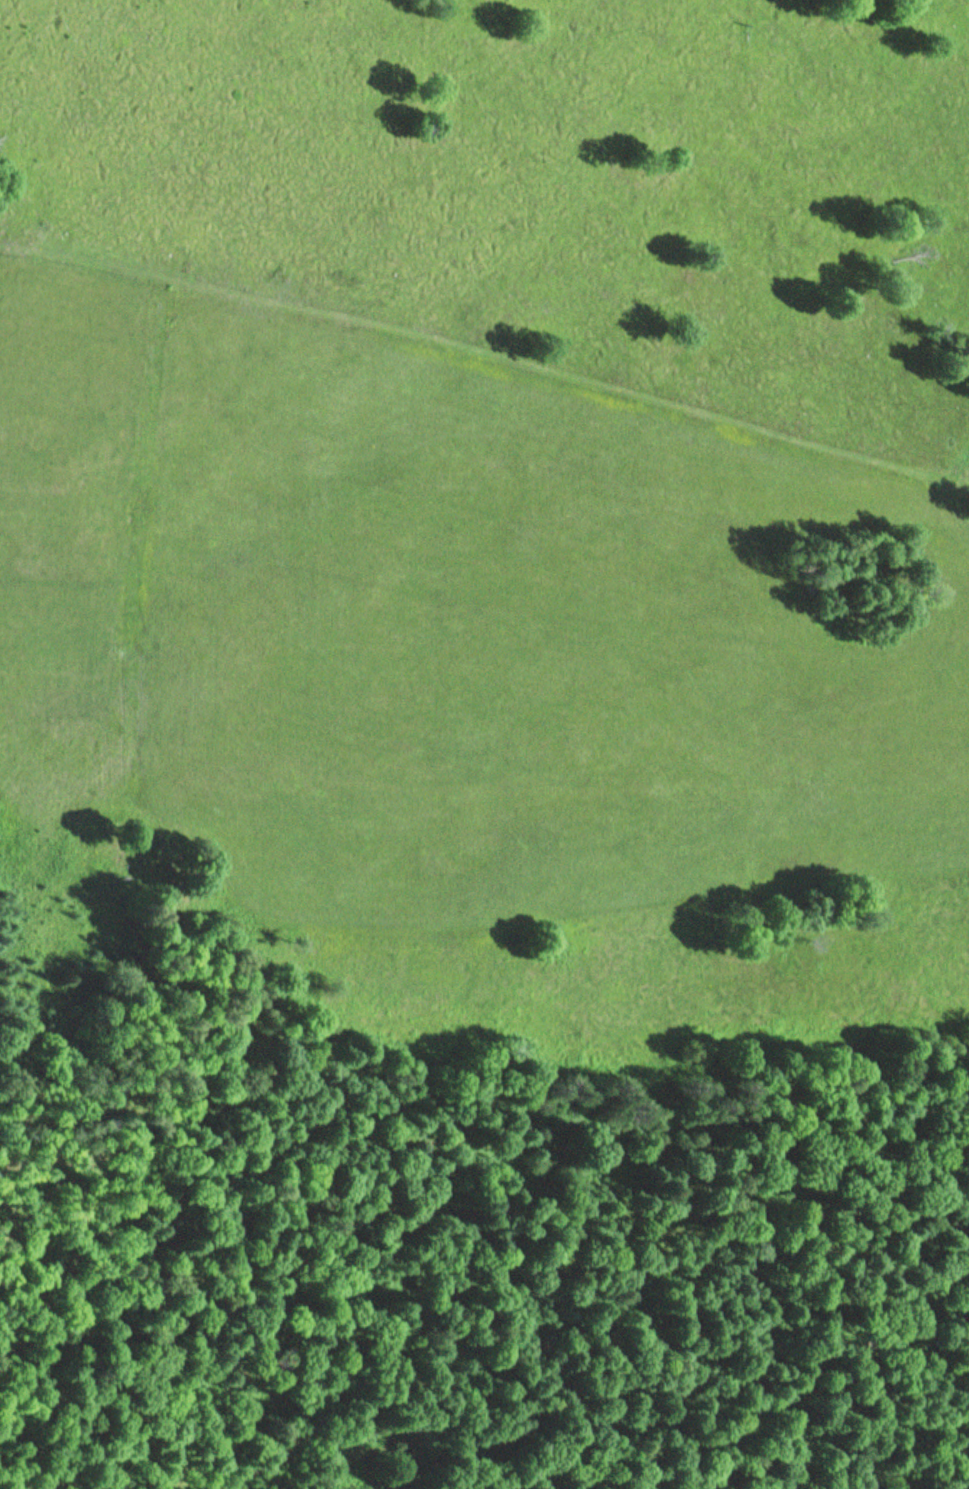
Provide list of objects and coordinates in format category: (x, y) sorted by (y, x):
road: (489, 357)

